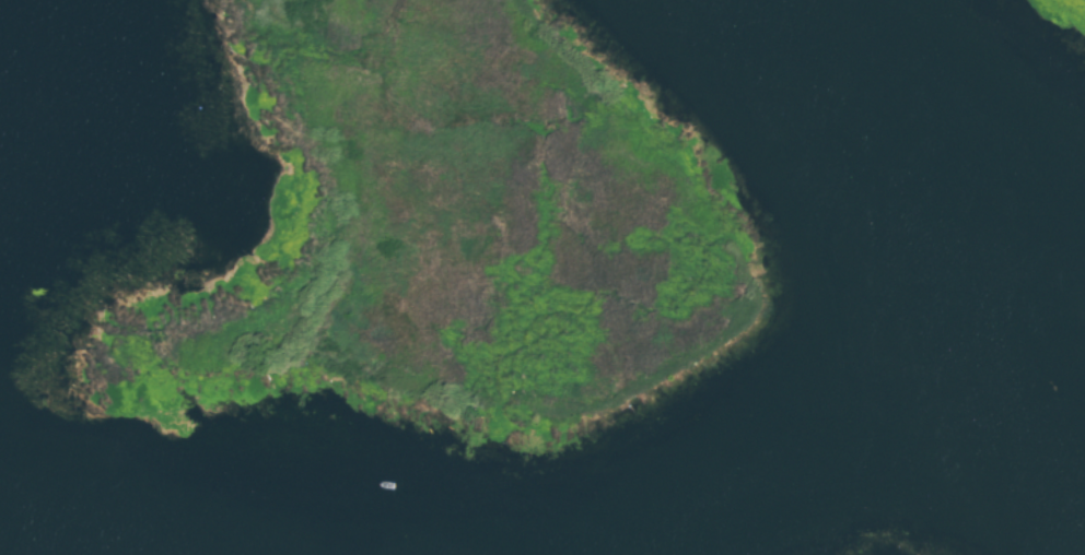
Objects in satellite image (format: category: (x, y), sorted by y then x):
river: (902, 126)
river: (1043, 249)

